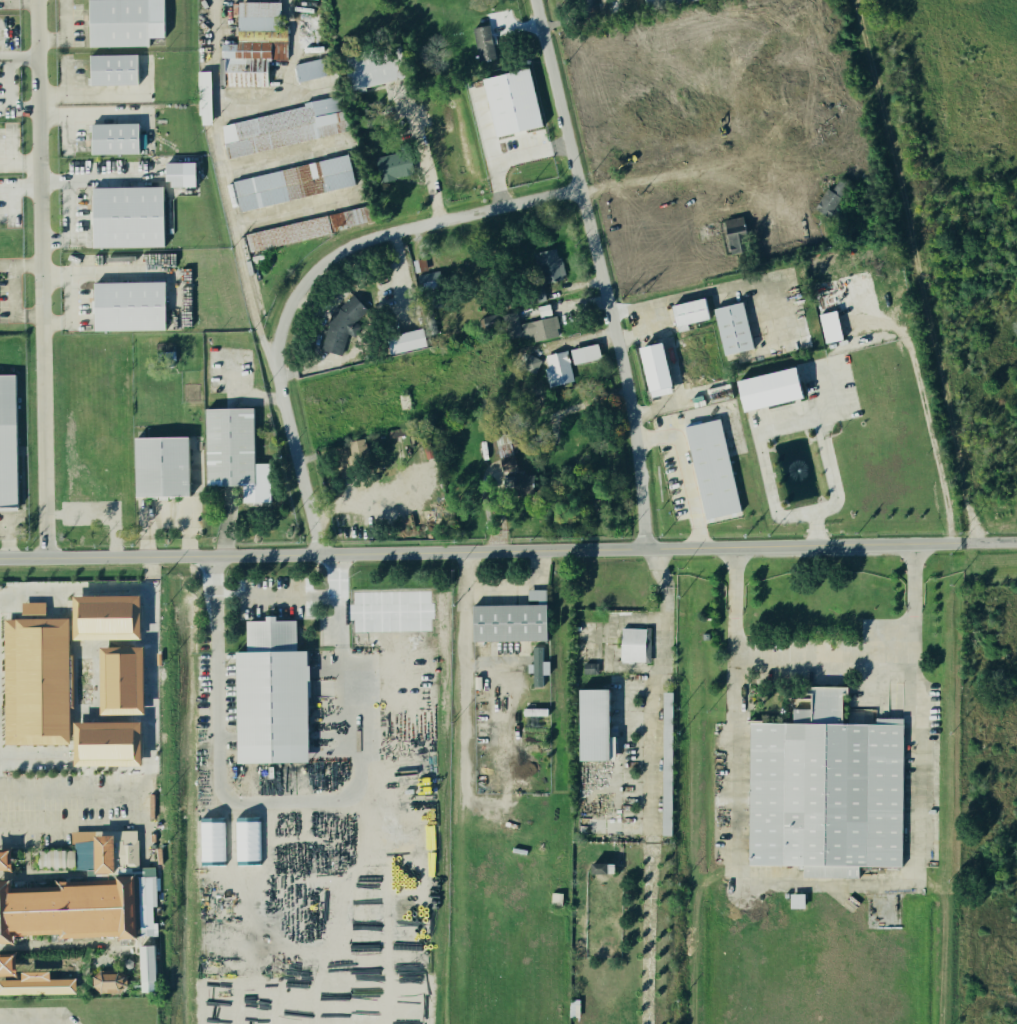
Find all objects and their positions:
road: (23, 1)
building: (661, 3)
road: (568, 17)
building: (125, 22)
road: (66, 31)
building: (483, 41)
building: (255, 44)
road: (294, 48)
building: (373, 65)
building: (315, 67)
building: (114, 69)
building: (205, 97)
road: (275, 97)
building: (513, 102)
building: (286, 126)
building: (115, 138)
road: (506, 156)
road: (707, 163)
road: (356, 164)
building: (395, 165)
building: (179, 173)
road: (100, 177)
road: (222, 180)
building: (294, 182)
building: (832, 199)
road: (730, 207)
building: (126, 216)
building: (287, 233)
road: (383, 233)
building: (737, 234)
road: (20, 265)
building: (548, 265)
road: (599, 273)
road: (41, 278)
building: (430, 280)
road: (686, 296)
road: (13, 302)
building: (130, 305)
building: (689, 312)
building: (491, 321)
building: (342, 325)
building: (831, 326)
building: (530, 327)
road: (368, 328)
building: (733, 328)
building: (407, 340)
road: (682, 350)
building: (586, 353)
building: (531, 363)
building: (558, 368)
building: (656, 369)
building: (770, 388)
road: (760, 427)
road: (930, 430)
building: (7, 442)
building: (358, 450)
building: (233, 452)
road: (299, 464)
building: (161, 466)
building: (713, 468)
road: (686, 474)
building: (519, 483)
road: (990, 542)
road: (481, 551)
road: (336, 574)
road: (514, 590)
road: (148, 614)
building: (107, 616)
road: (619, 618)
building: (512, 619)
building: (705, 636)
building: (632, 644)
road: (821, 660)
building: (538, 667)
building: (591, 667)
building: (41, 675)
building: (123, 679)
road: (462, 689)
building: (272, 694)
building: (594, 724)
building: (108, 743)
building: (667, 762)
road: (647, 781)
building: (826, 790)
road: (324, 802)
road: (140, 803)
building: (104, 852)
building: (127, 852)
building: (85, 854)
building: (56, 857)
building: (41, 858)
building: (5, 860)
building: (151, 861)
building: (599, 868)
road: (819, 884)
building: (785, 894)
building: (555, 898)
building: (796, 900)
building: (70, 910)
building: (7, 966)
building: (148, 968)
building: (109, 981)
building: (38, 984)
road: (26, 1021)

